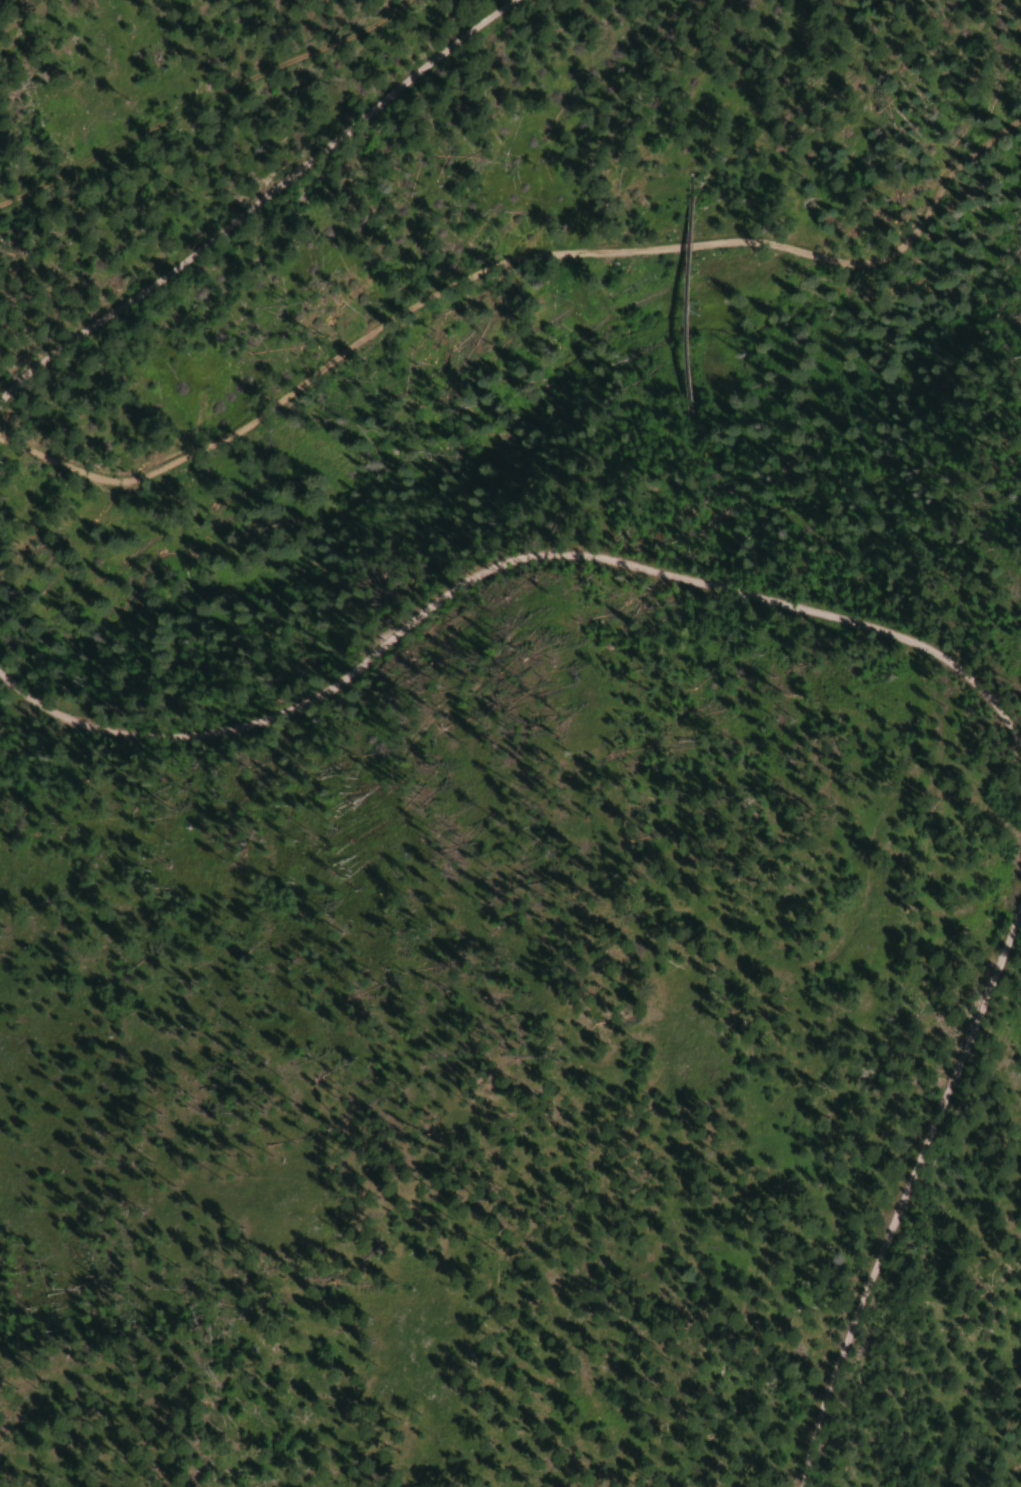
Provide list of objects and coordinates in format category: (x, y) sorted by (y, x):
road: (254, 201)
road: (511, 258)
road: (504, 558)
road: (904, 1190)

